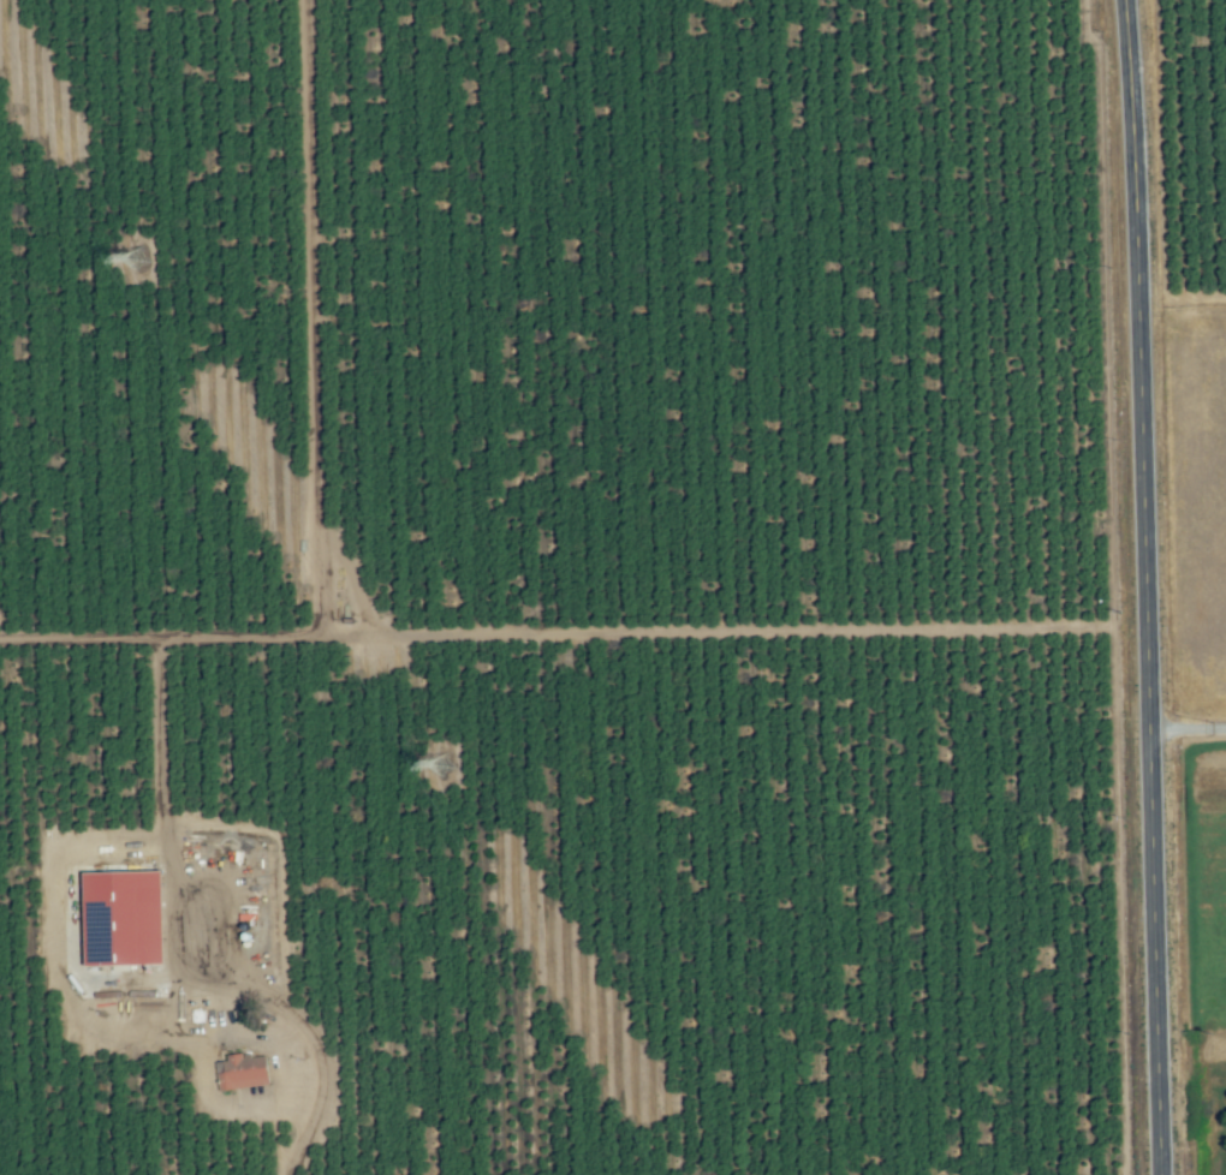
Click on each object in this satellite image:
power tower: (133, 256)
crop: (649, 556)
road: (1143, 587)
road: (249, 636)
road: (1186, 728)
power tower: (440, 762)
building: (108, 873)
building: (79, 884)
crop: (8, 912)
building: (212, 931)
building: (129, 979)
building: (240, 1073)
crop: (8, 1155)

